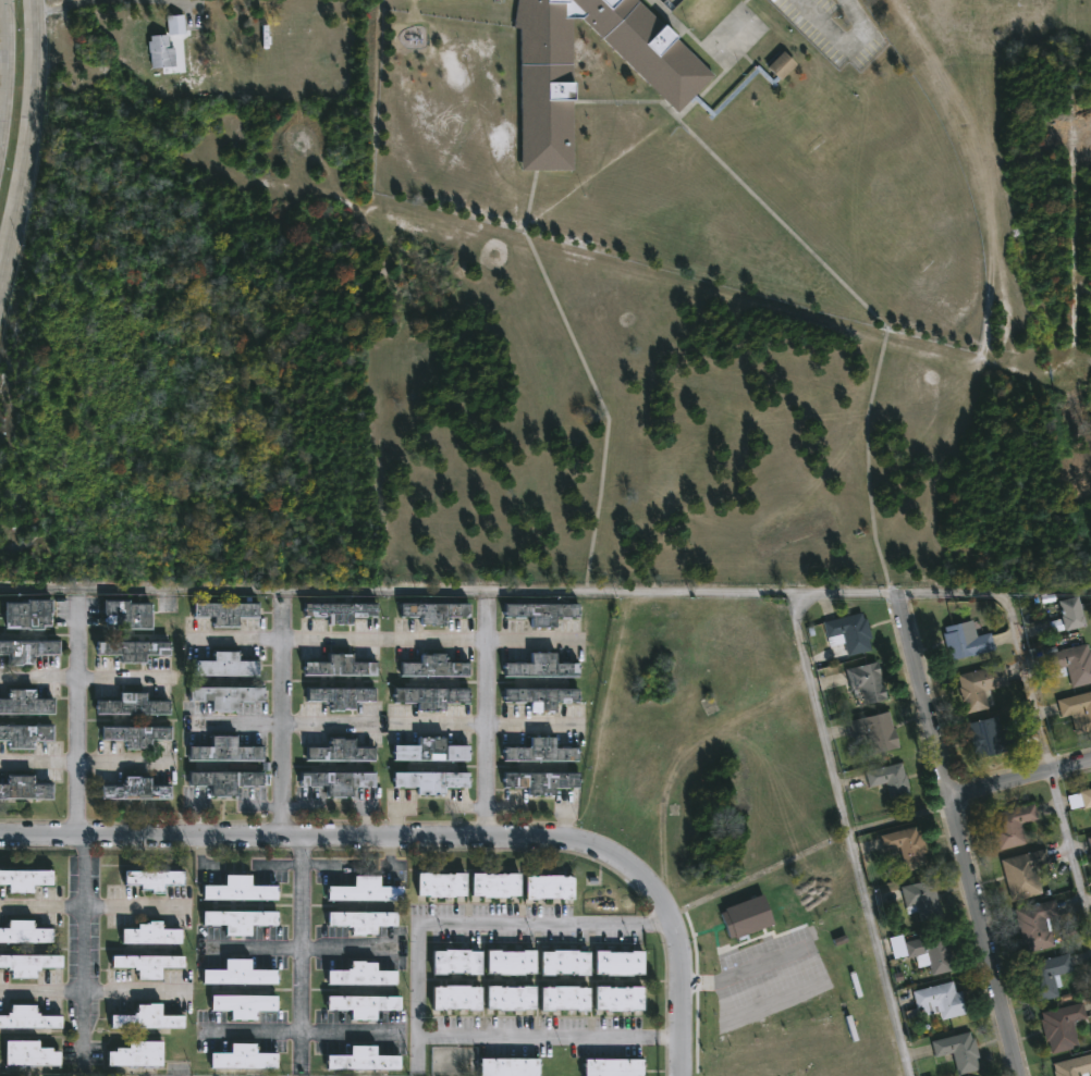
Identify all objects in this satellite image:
road: (193, 3)
road: (65, 5)
building: (175, 25)
road: (838, 38)
building: (161, 51)
road: (4, 69)
building: (679, 84)
road: (29, 141)
road: (841, 282)
road: (589, 378)
park: (453, 407)
park: (487, 415)
road: (545, 592)
building: (225, 611)
building: (343, 611)
building: (542, 611)
building: (437, 613)
building: (1075, 613)
building: (28, 614)
building: (130, 614)
building: (848, 635)
road: (384, 639)
building: (967, 641)
building: (133, 648)
building: (27, 650)
building: (1074, 664)
building: (226, 665)
building: (434, 666)
building: (540, 666)
building: (342, 667)
road: (86, 677)
road: (1027, 681)
building: (869, 682)
building: (982, 684)
building: (225, 696)
building: (342, 696)
building: (430, 696)
building: (540, 696)
building: (26, 702)
building: (132, 704)
building: (1078, 710)
road: (77, 713)
road: (281, 713)
road: (485, 720)
road: (480, 722)
road: (292, 723)
building: (878, 732)
building: (135, 733)
building: (25, 734)
building: (993, 738)
building: (544, 747)
building: (226, 749)
building: (341, 750)
building: (430, 750)
road: (81, 762)
road: (1019, 777)
building: (225, 780)
building: (336, 780)
building: (429, 780)
building: (543, 780)
building: (892, 780)
building: (26, 790)
building: (134, 790)
building: (1087, 796)
building: (1014, 824)
road: (958, 834)
road: (432, 836)
road: (850, 836)
building: (1090, 838)
building: (910, 844)
road: (301, 845)
road: (1071, 845)
building: (1026, 873)
building: (155, 877)
building: (26, 878)
building: (441, 882)
building: (497, 885)
building: (552, 885)
building: (242, 887)
building: (367, 889)
building: (925, 902)
road: (93, 906)
building: (746, 917)
building: (241, 918)
building: (364, 918)
building: (1038, 924)
building: (25, 931)
building: (151, 931)
road: (298, 944)
road: (83, 948)
building: (928, 950)
road: (298, 960)
building: (455, 961)
building: (511, 961)
building: (618, 961)
building: (150, 962)
building: (563, 962)
building: (29, 963)
building: (238, 973)
building: (364, 973)
road: (744, 974)
building: (1050, 974)
road: (415, 981)
road: (91, 990)
building: (456, 997)
building: (564, 997)
building: (617, 997)
building: (510, 998)
building: (945, 999)
building: (244, 1003)
building: (365, 1003)
building: (30, 1016)
building: (148, 1018)
building: (1064, 1025)
road: (303, 1029)
building: (960, 1051)
building: (30, 1052)
building: (138, 1053)
building: (245, 1056)
building: (365, 1058)
building: (507, 1066)
building: (612, 1066)
building: (1074, 1066)

